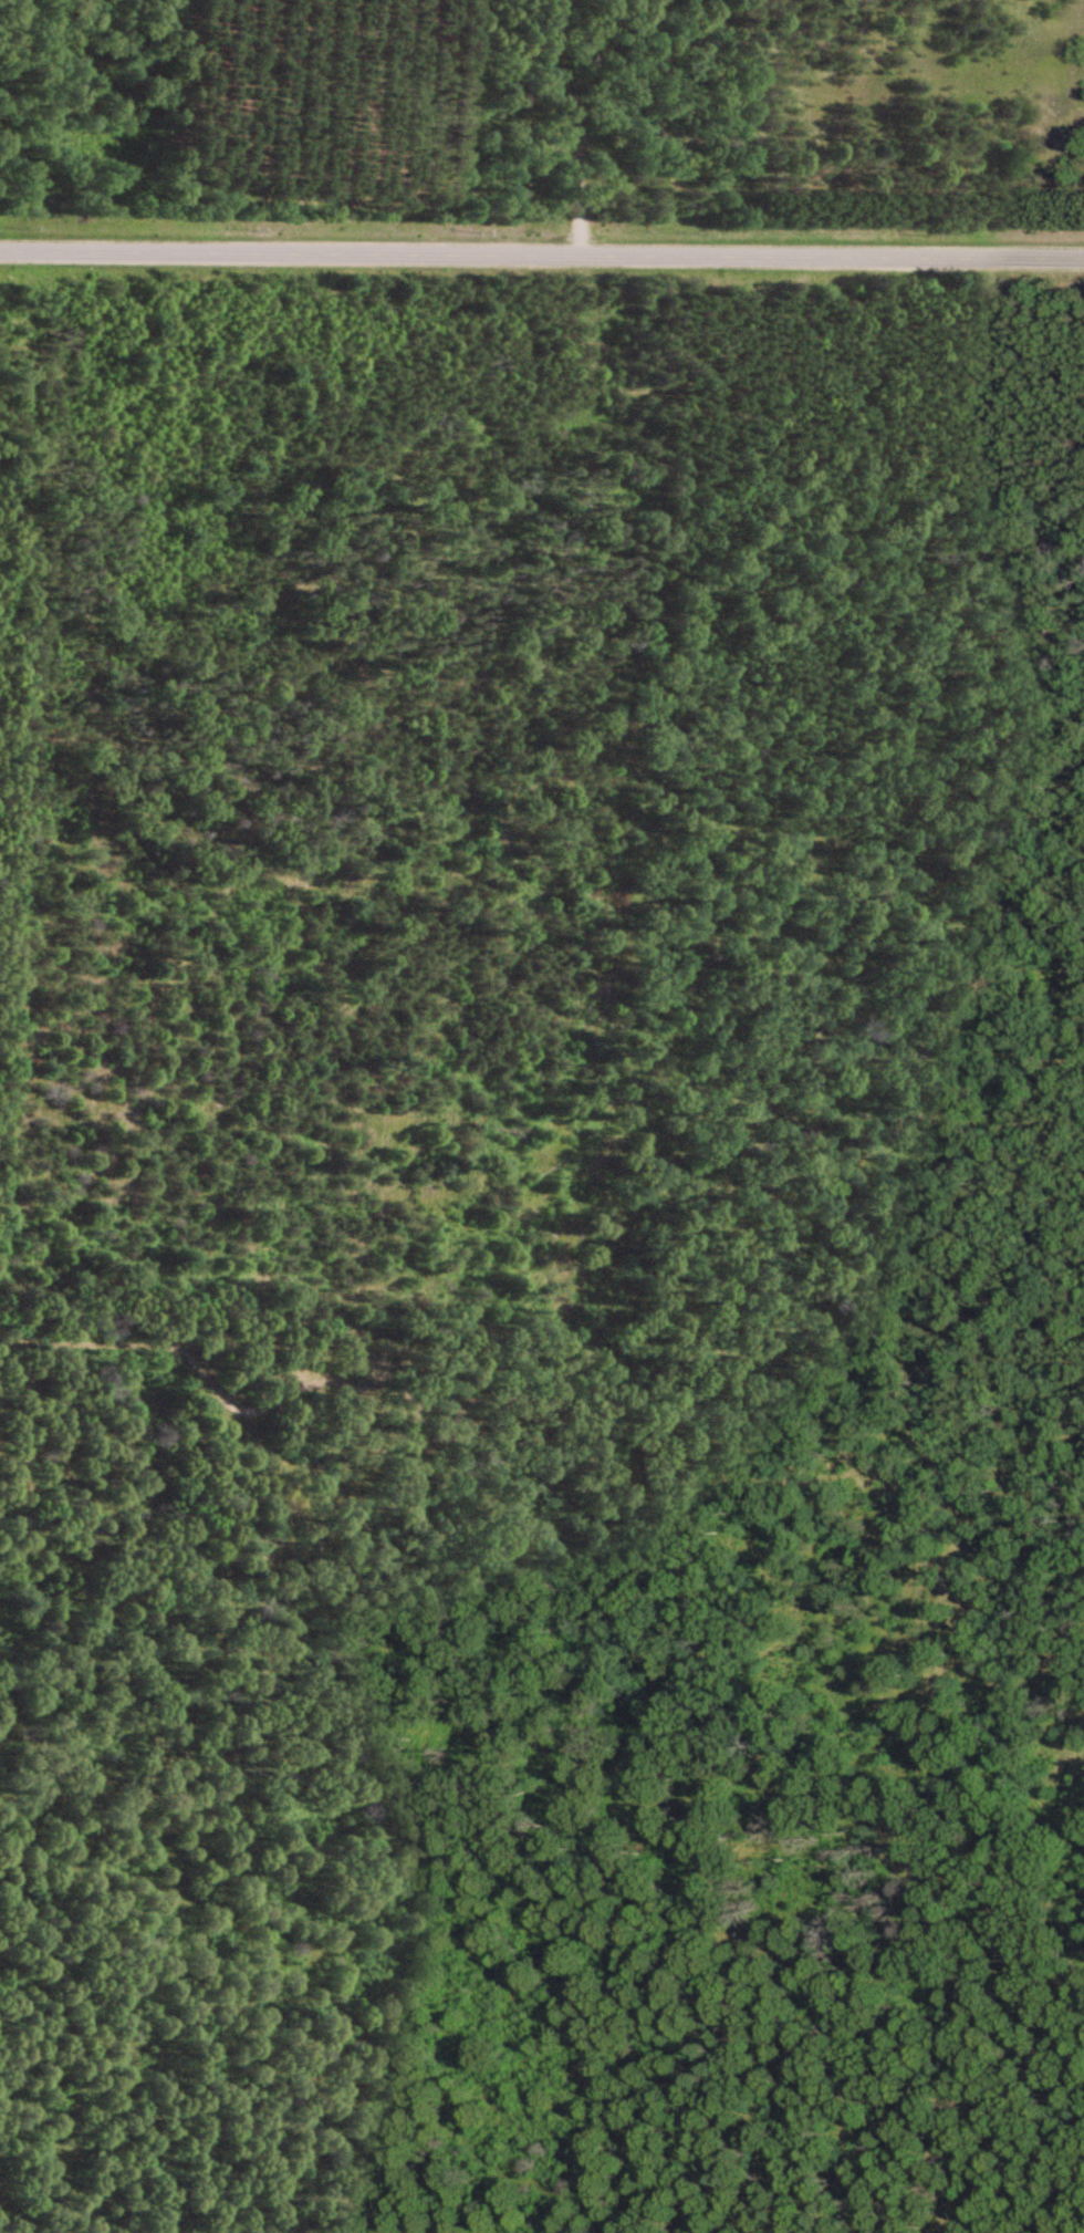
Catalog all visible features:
road: (542, 251)

